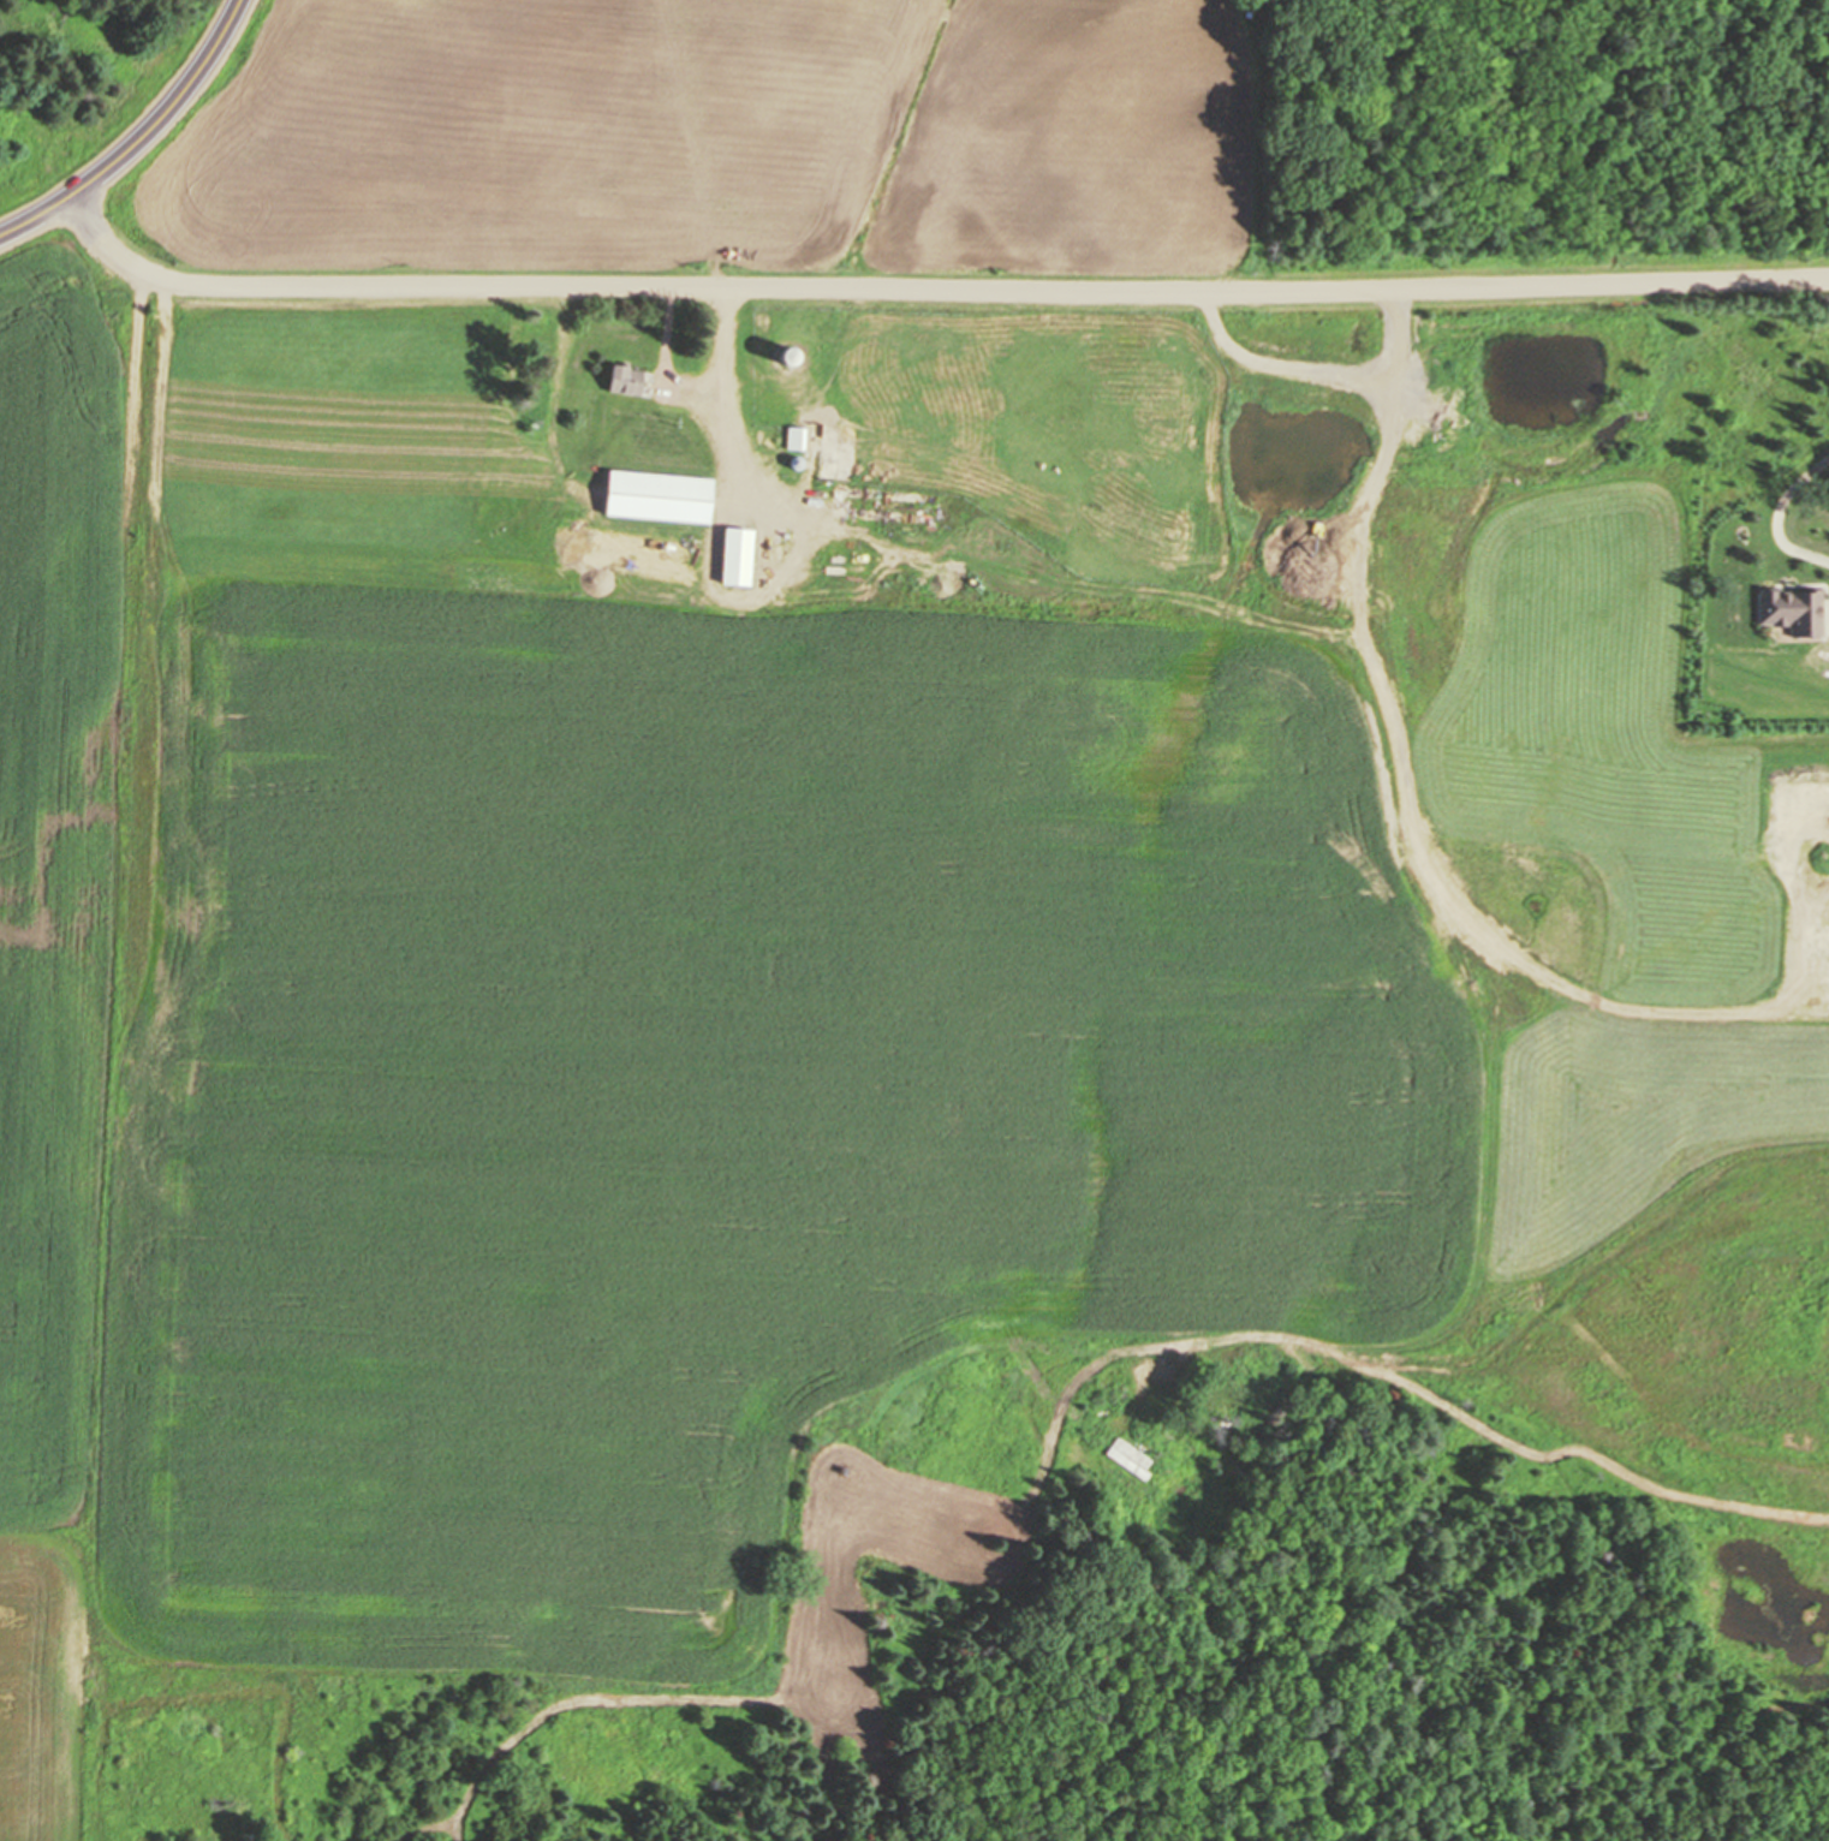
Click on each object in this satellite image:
park: (85, 84)
park: (1270, 138)
road: (143, 142)
road: (1268, 149)
road: (1565, 284)
road: (671, 287)
building: (626, 381)
building: (782, 385)
building: (660, 498)
building: (745, 553)
building: (1795, 610)

